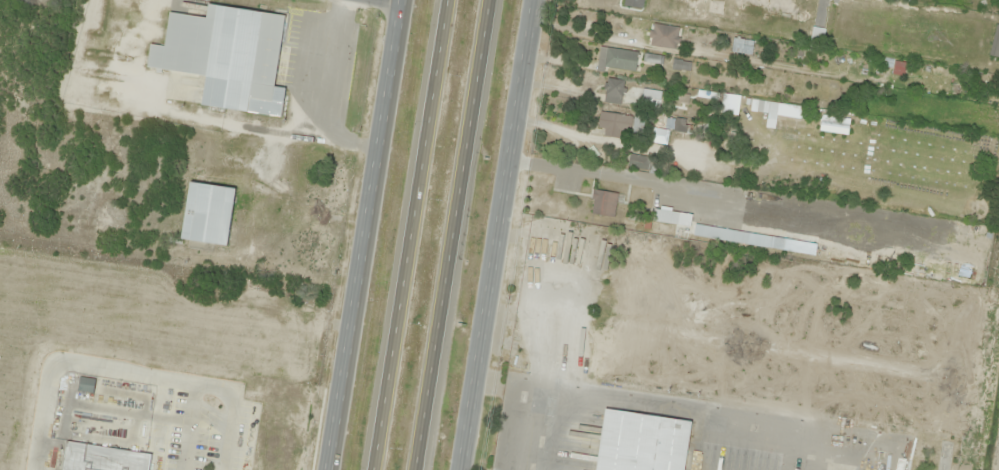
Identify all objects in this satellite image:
road: (403, 0)
building: (632, 3)
building: (715, 6)
building: (639, 30)
building: (994, 43)
building: (226, 56)
building: (616, 59)
building: (680, 66)
building: (613, 91)
building: (615, 123)
building: (679, 125)
building: (639, 162)
road: (464, 165)
building: (603, 203)
building: (207, 213)
road: (412, 234)
road: (498, 234)
road: (368, 235)
building: (558, 264)
building: (611, 362)
road: (427, 400)
building: (640, 442)
building: (102, 458)

